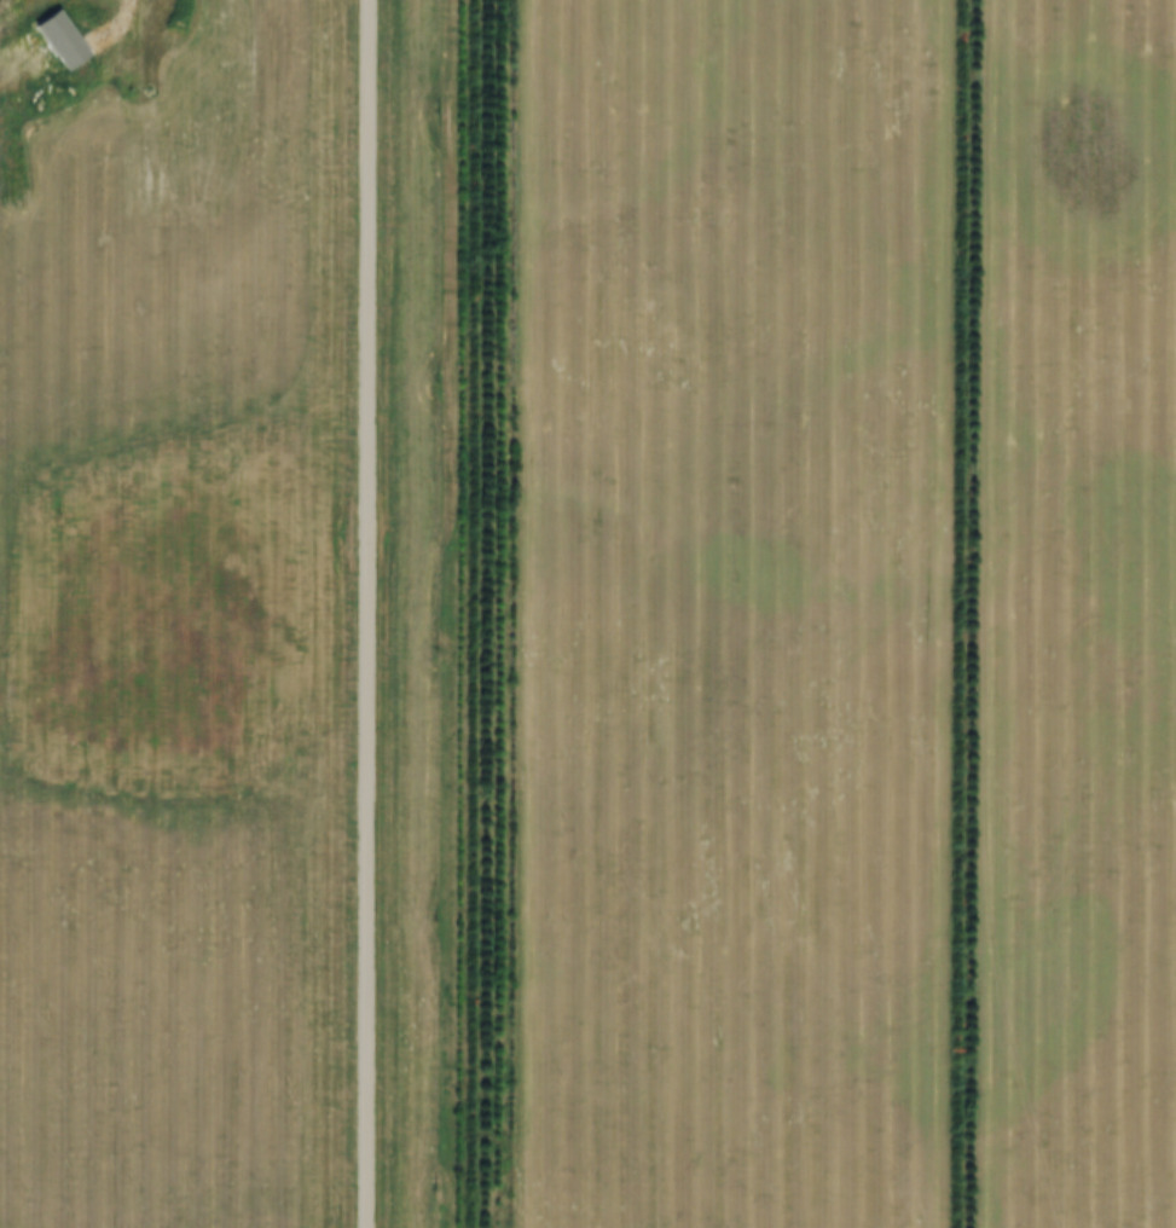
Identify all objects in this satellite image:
road: (372, 613)

